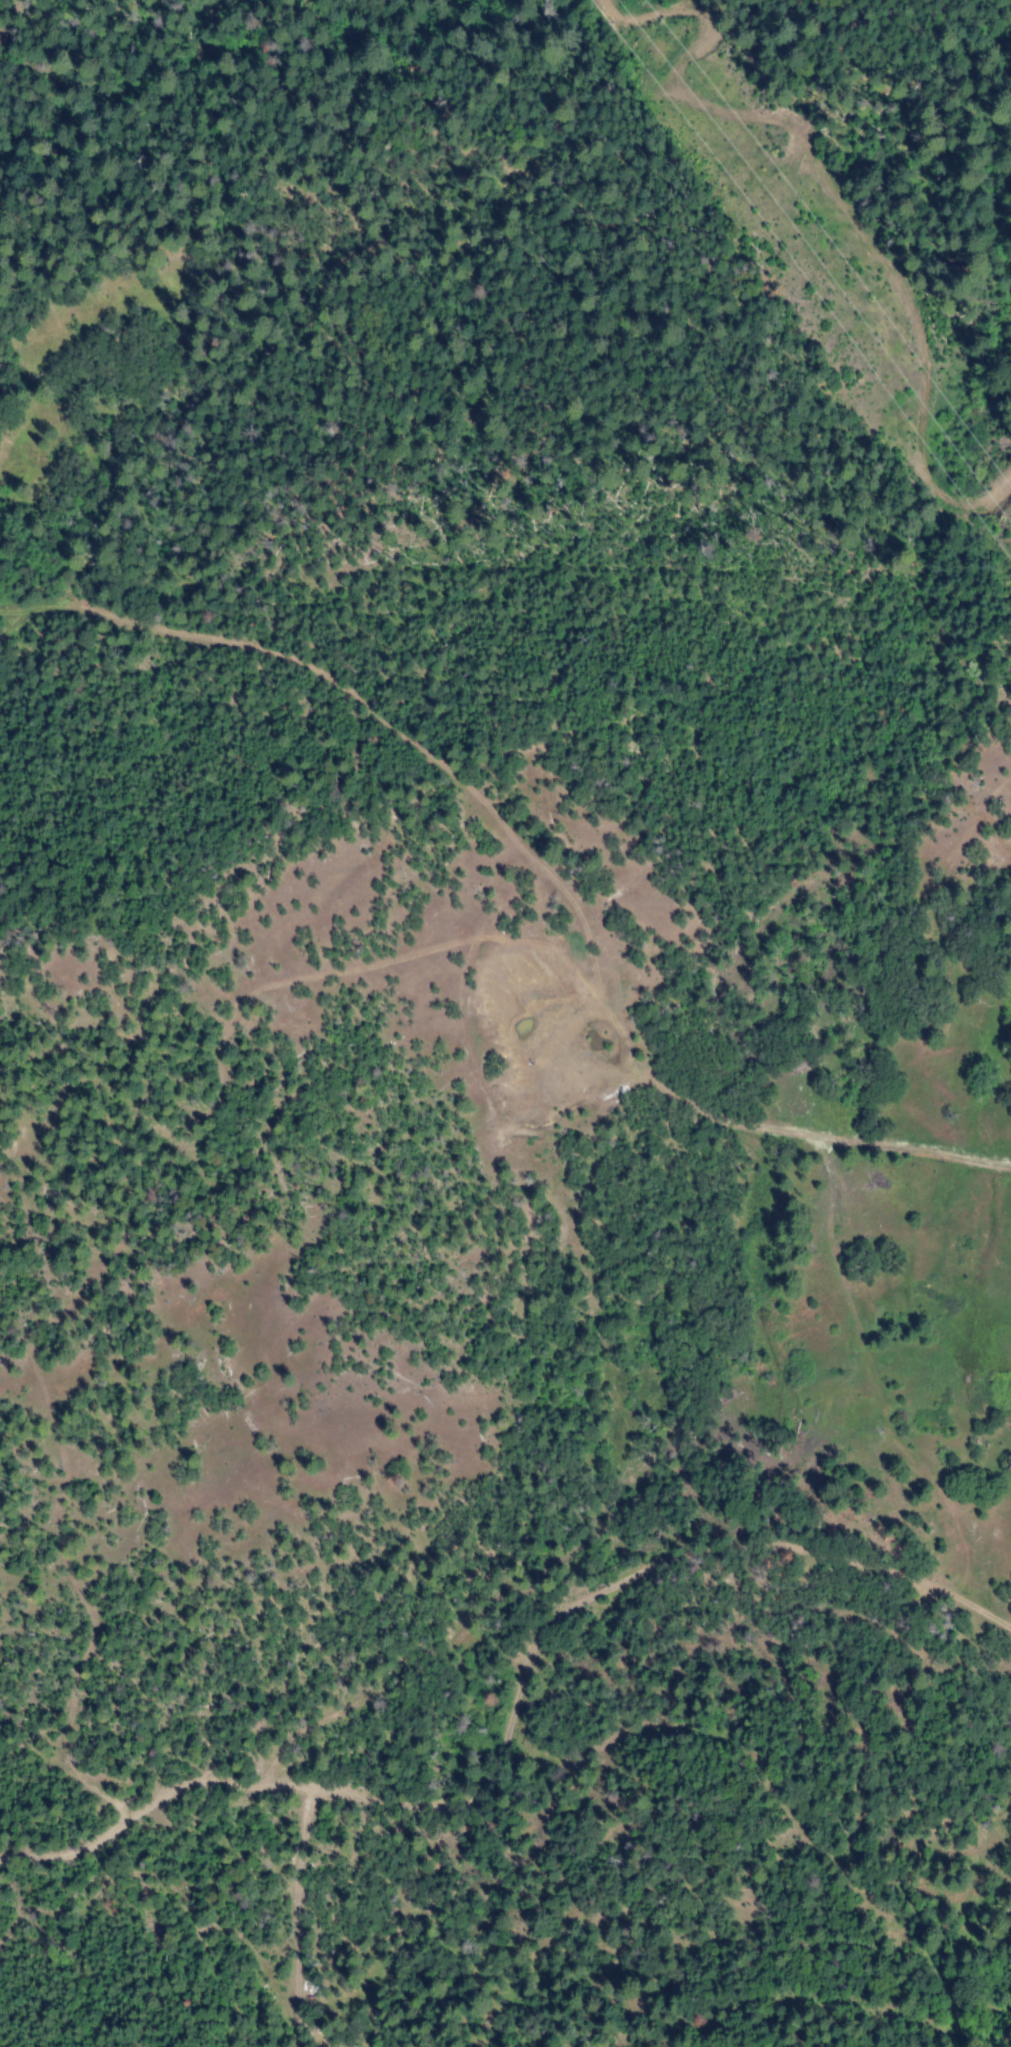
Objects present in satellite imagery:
road: (489, 1711)

